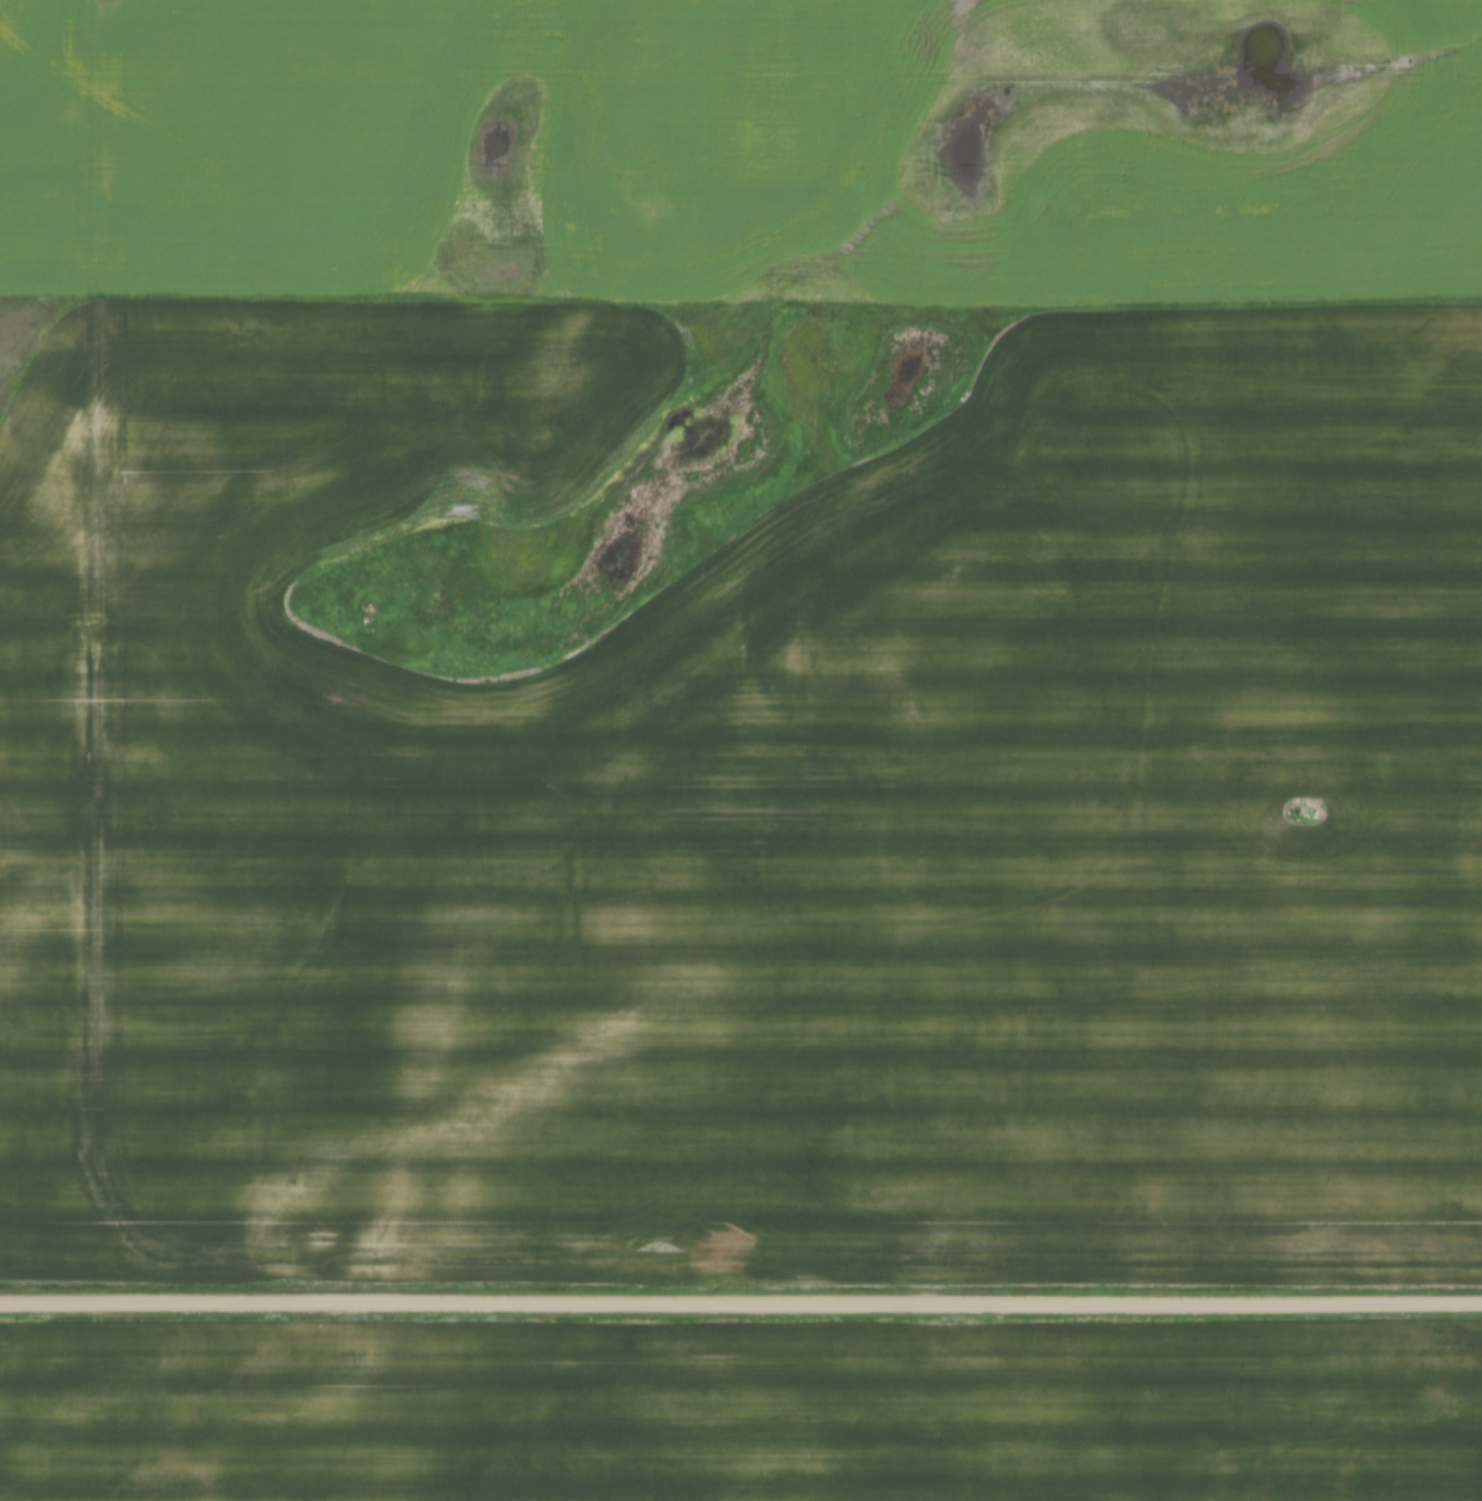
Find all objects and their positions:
road: (741, 1300)

